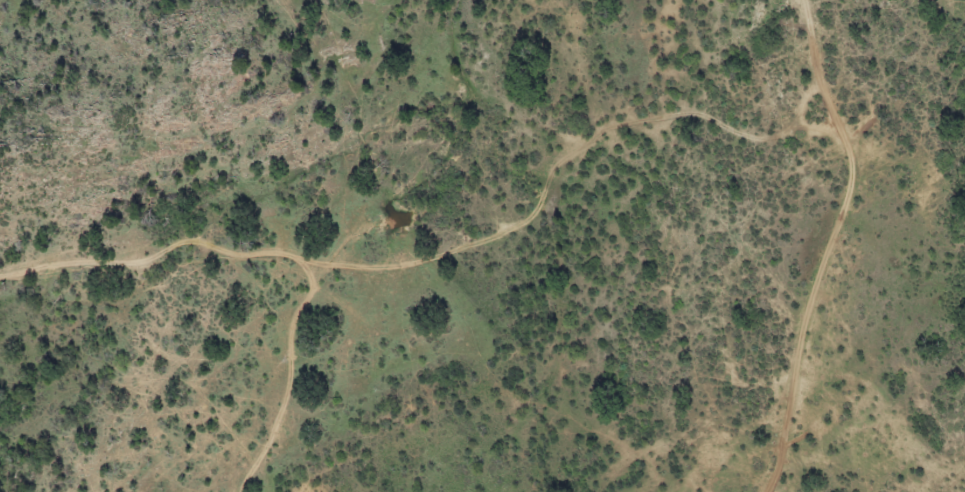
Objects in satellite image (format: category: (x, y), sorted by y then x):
road: (830, 246)
road: (440, 251)

